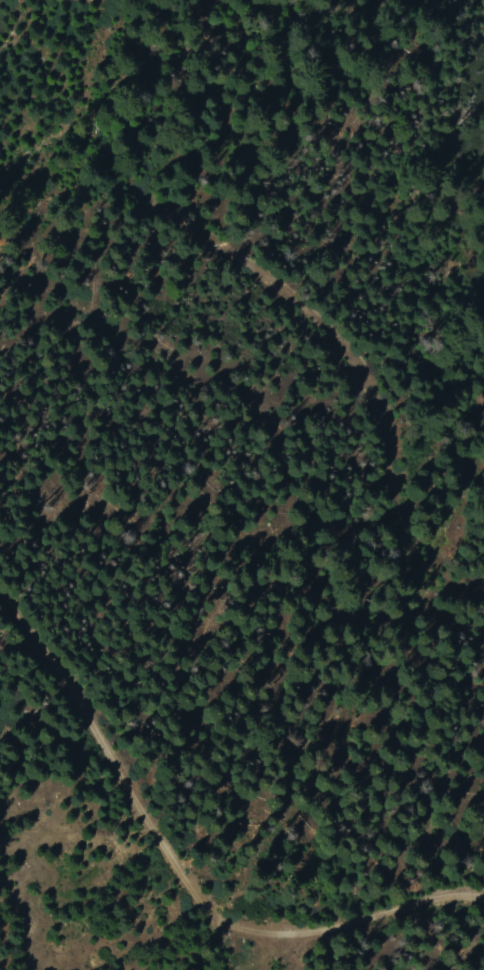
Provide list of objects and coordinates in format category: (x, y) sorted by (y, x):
road: (280, 299)
road: (243, 581)
road: (179, 879)

